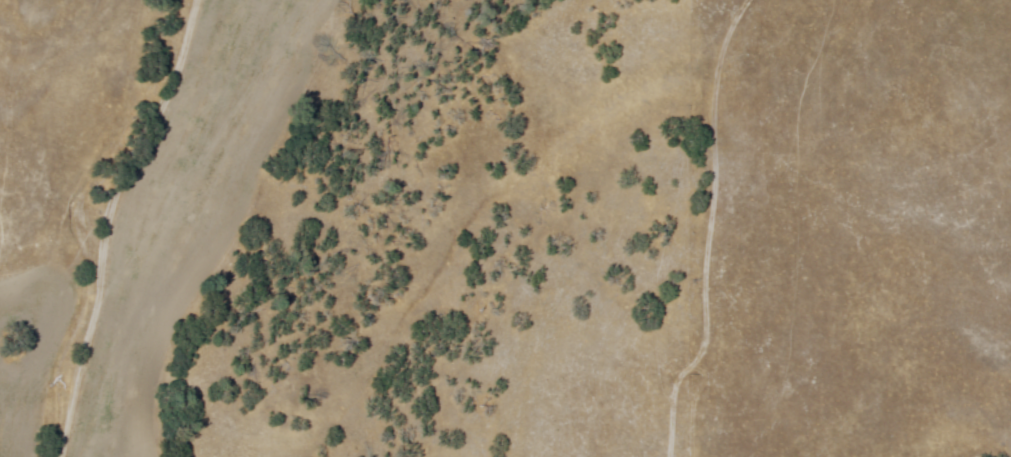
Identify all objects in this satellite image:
road: (106, 224)

